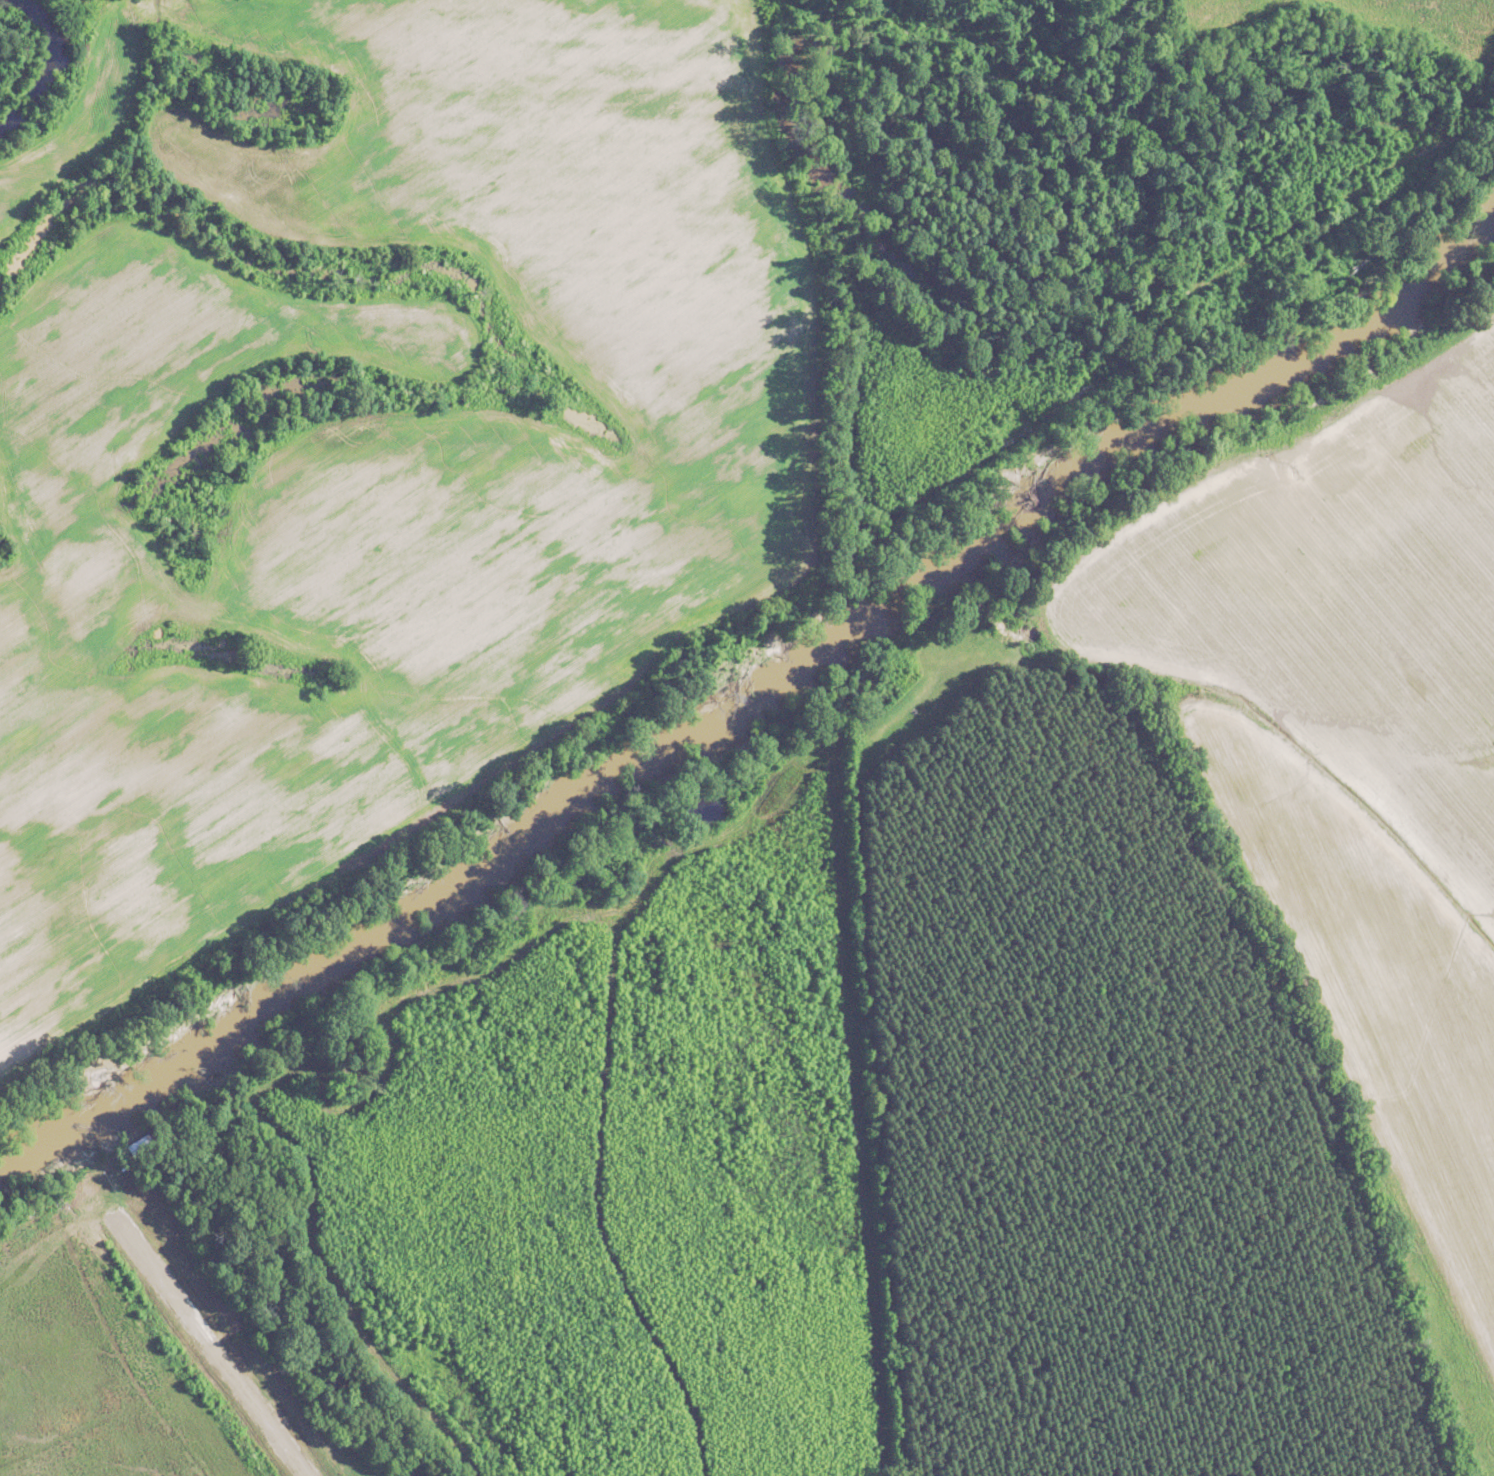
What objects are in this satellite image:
river: (749, 692)

